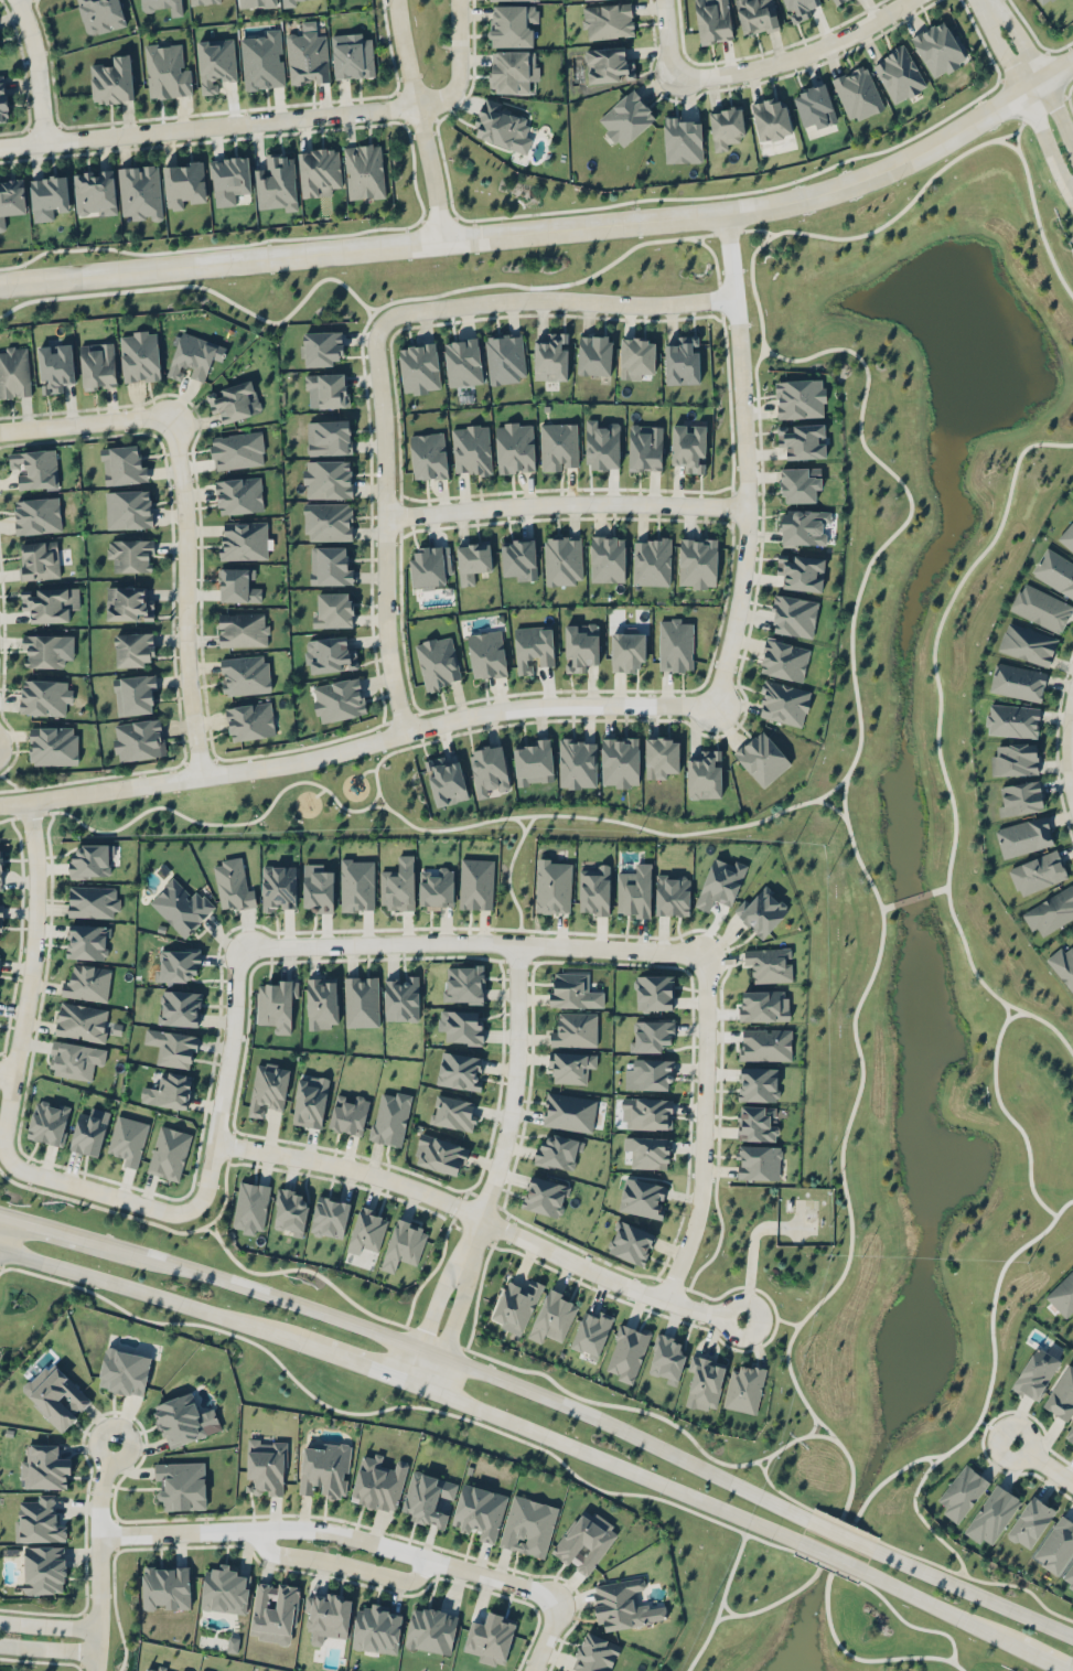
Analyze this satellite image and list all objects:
building: (502, 0)
building: (204, 1)
building: (834, 1)
building: (1042, 1)
building: (255, 3)
building: (289, 3)
building: (162, 6)
building: (798, 9)
building: (100, 15)
building: (757, 15)
building: (607, 20)
building: (712, 20)
building: (513, 24)
road: (667, 38)
building: (0, 49)
building: (937, 49)
building: (0, 50)
building: (308, 55)
building: (352, 55)
road: (796, 56)
building: (262, 61)
building: (215, 63)
building: (609, 64)
road: (458, 65)
road: (37, 69)
building: (167, 71)
building: (511, 71)
road: (1038, 71)
building: (898, 73)
building: (111, 79)
building: (857, 93)
road: (1026, 96)
building: (3, 99)
building: (814, 106)
building: (625, 118)
building: (771, 118)
road: (419, 119)
building: (497, 125)
road: (208, 126)
building: (726, 126)
building: (683, 138)
building: (319, 170)
building: (363, 170)
building: (230, 179)
building: (277, 183)
building: (184, 184)
building: (140, 191)
building: (94, 192)
building: (47, 196)
building: (11, 199)
road: (552, 228)
road: (558, 299)
road: (373, 308)
building: (321, 347)
building: (594, 354)
building: (139, 355)
building: (191, 355)
building: (505, 357)
building: (551, 357)
building: (636, 357)
building: (683, 361)
building: (463, 362)
building: (97, 364)
building: (54, 366)
building: (419, 367)
building: (14, 371)
building: (328, 387)
building: (800, 398)
building: (234, 400)
road: (87, 420)
building: (326, 436)
building: (803, 440)
building: (558, 446)
building: (602, 446)
building: (688, 446)
building: (645, 447)
building: (515, 448)
building: (236, 449)
building: (471, 449)
building: (428, 456)
road: (745, 458)
building: (124, 463)
building: (34, 467)
building: (328, 479)
building: (800, 484)
building: (238, 494)
road: (565, 503)
building: (128, 508)
building: (36, 514)
building: (329, 521)
road: (385, 525)
building: (804, 527)
building: (1066, 536)
building: (243, 539)
building: (130, 554)
building: (518, 558)
building: (607, 558)
building: (39, 559)
building: (562, 559)
building: (472, 560)
building: (652, 561)
building: (697, 561)
building: (329, 565)
building: (430, 566)
building: (1054, 570)
building: (802, 572)
building: (236, 585)
road: (186, 593)
building: (49, 602)
building: (127, 602)
building: (1040, 607)
building: (331, 608)
road: (852, 614)
building: (794, 615)
building: (242, 628)
building: (1027, 643)
building: (675, 644)
building: (581, 645)
building: (533, 647)
building: (132, 649)
building: (43, 650)
building: (626, 651)
building: (330, 654)
building: (486, 654)
building: (784, 660)
building: (438, 662)
building: (244, 674)
building: (1015, 681)
building: (135, 694)
building: (42, 696)
building: (339, 699)
building: (784, 703)
building: (1011, 719)
building: (249, 720)
building: (137, 738)
building: (53, 745)
road: (355, 746)
building: (661, 757)
building: (762, 758)
building: (1013, 759)
building: (533, 761)
building: (620, 761)
building: (577, 763)
building: (489, 769)
road: (366, 770)
building: (705, 774)
building: (446, 781)
building: (1018, 797)
road: (565, 815)
road: (198, 822)
building: (1023, 836)
building: (90, 860)
building: (1, 871)
building: (1038, 872)
building: (476, 883)
building: (720, 883)
building: (233, 885)
building: (357, 885)
building: (398, 885)
building: (552, 886)
building: (278, 887)
building: (318, 888)
building: (437, 888)
road: (938, 888)
building: (593, 890)
building: (634, 891)
building: (673, 896)
road: (912, 897)
building: (93, 900)
road: (888, 904)
building: (181, 907)
building: (761, 911)
building: (1050, 911)
building: (0, 919)
building: (87, 941)
road: (473, 941)
building: (770, 964)
building: (178, 965)
building: (1062, 965)
road: (30, 981)
building: (87, 983)
building: (464, 984)
building: (573, 990)
building: (654, 992)
road: (998, 998)
building: (401, 999)
building: (322, 1001)
building: (362, 1001)
building: (276, 1005)
building: (764, 1005)
building: (180, 1008)
road: (1012, 1015)
building: (81, 1020)
road: (1044, 1021)
building: (462, 1026)
building: (575, 1029)
building: (651, 1035)
building: (765, 1043)
building: (172, 1047)
building: (75, 1060)
building: (571, 1067)
building: (460, 1070)
road: (7, 1071)
building: (650, 1074)
road: (226, 1080)
building: (758, 1083)
building: (268, 1089)
building: (169, 1091)
road: (513, 1096)
building: (310, 1101)
building: (569, 1112)
building: (453, 1113)
building: (647, 1113)
building: (348, 1114)
building: (390, 1116)
building: (47, 1122)
building: (755, 1124)
road: (705, 1129)
building: (89, 1132)
building: (128, 1139)
building: (557, 1152)
building: (648, 1152)
building: (169, 1153)
building: (440, 1154)
building: (759, 1161)
road: (97, 1191)
building: (545, 1196)
building: (642, 1198)
road: (1062, 1206)
building: (250, 1207)
building: (290, 1209)
road: (483, 1214)
building: (330, 1217)
road: (64, 1231)
building: (367, 1231)
building: (631, 1242)
building: (404, 1245)
road: (143, 1292)
building: (1062, 1294)
building: (516, 1305)
road: (431, 1311)
building: (552, 1317)
road: (452, 1319)
building: (591, 1333)
building: (627, 1352)
building: (667, 1359)
road: (351, 1361)
road: (473, 1368)
building: (124, 1371)
building: (1036, 1373)
building: (705, 1382)
building: (743, 1389)
building: (56, 1395)
building: (1062, 1395)
building: (184, 1420)
building: (1070, 1434)
road: (607, 1461)
road: (1043, 1463)
building: (266, 1466)
building: (44, 1467)
building: (324, 1469)
building: (378, 1482)
building: (182, 1485)
road: (100, 1487)
building: (962, 1492)
building: (428, 1498)
building: (479, 1511)
building: (992, 1514)
building: (39, 1521)
building: (1030, 1522)
building: (528, 1525)
road: (332, 1531)
road: (839, 1534)
building: (583, 1543)
building: (1056, 1545)
road: (828, 1557)
road: (339, 1561)
building: (44, 1568)
building: (1069, 1576)
building: (165, 1587)
building: (224, 1588)
road: (973, 1593)
road: (97, 1602)
building: (625, 1605)
building: (273, 1611)
road: (743, 1614)
building: (326, 1615)
road: (962, 1621)
road: (47, 1624)
building: (377, 1628)
building: (431, 1630)
road: (545, 1637)
building: (491, 1638)
road: (47, 1648)
building: (595, 1653)
road: (863, 1659)
building: (153, 1669)
building: (181, 1670)

